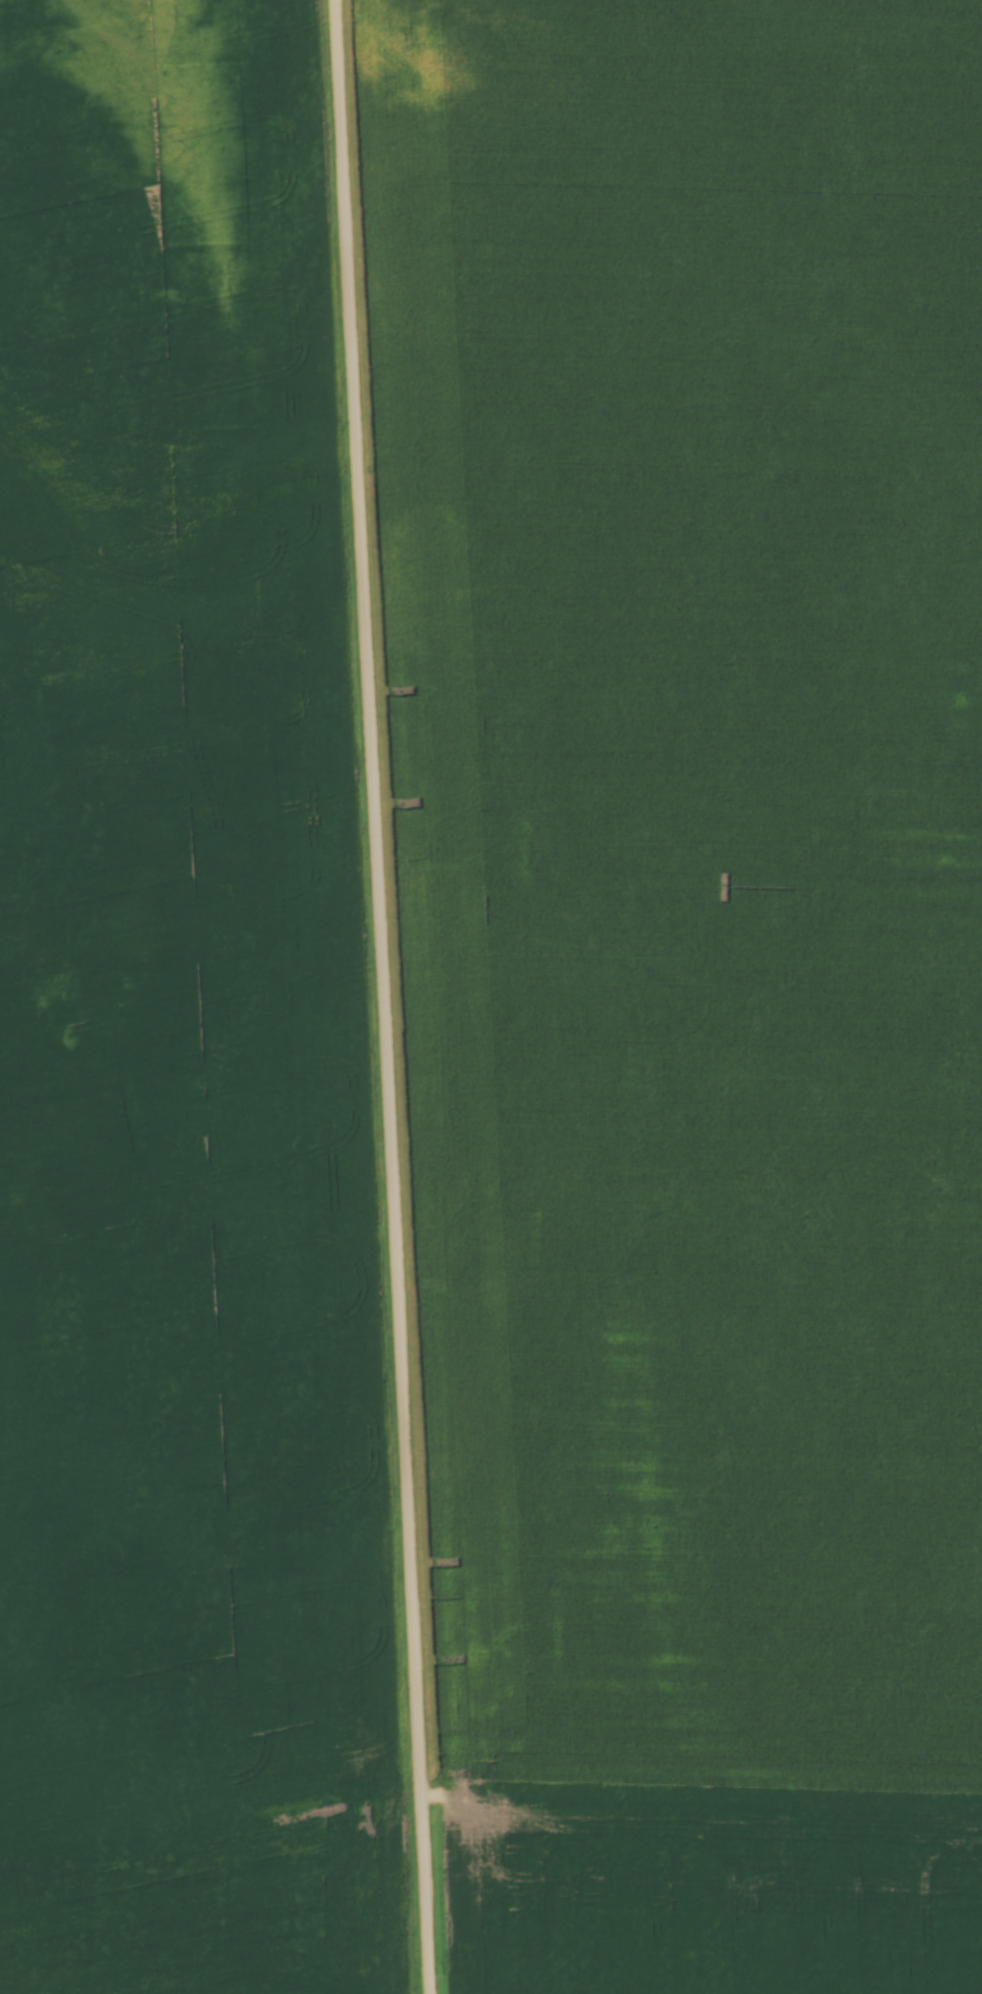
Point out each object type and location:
road: (381, 996)

